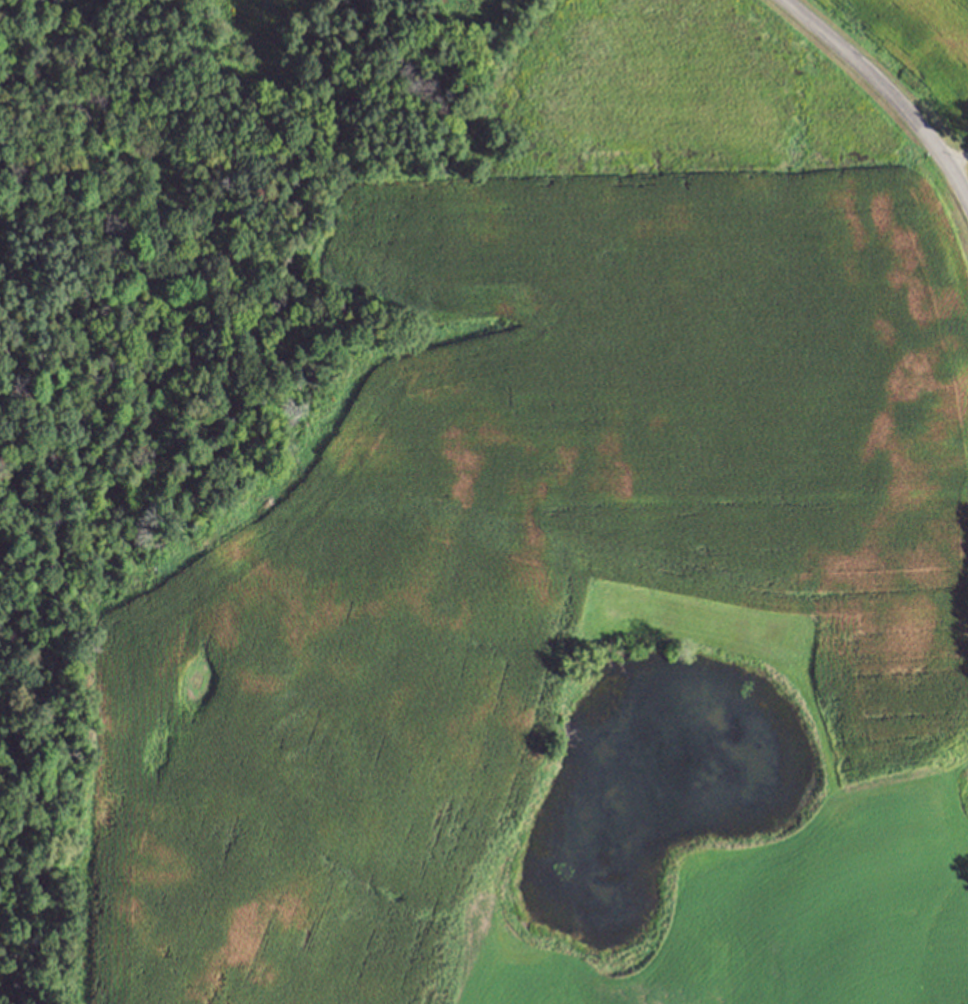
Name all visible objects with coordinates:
road: (887, 94)
road: (956, 163)

